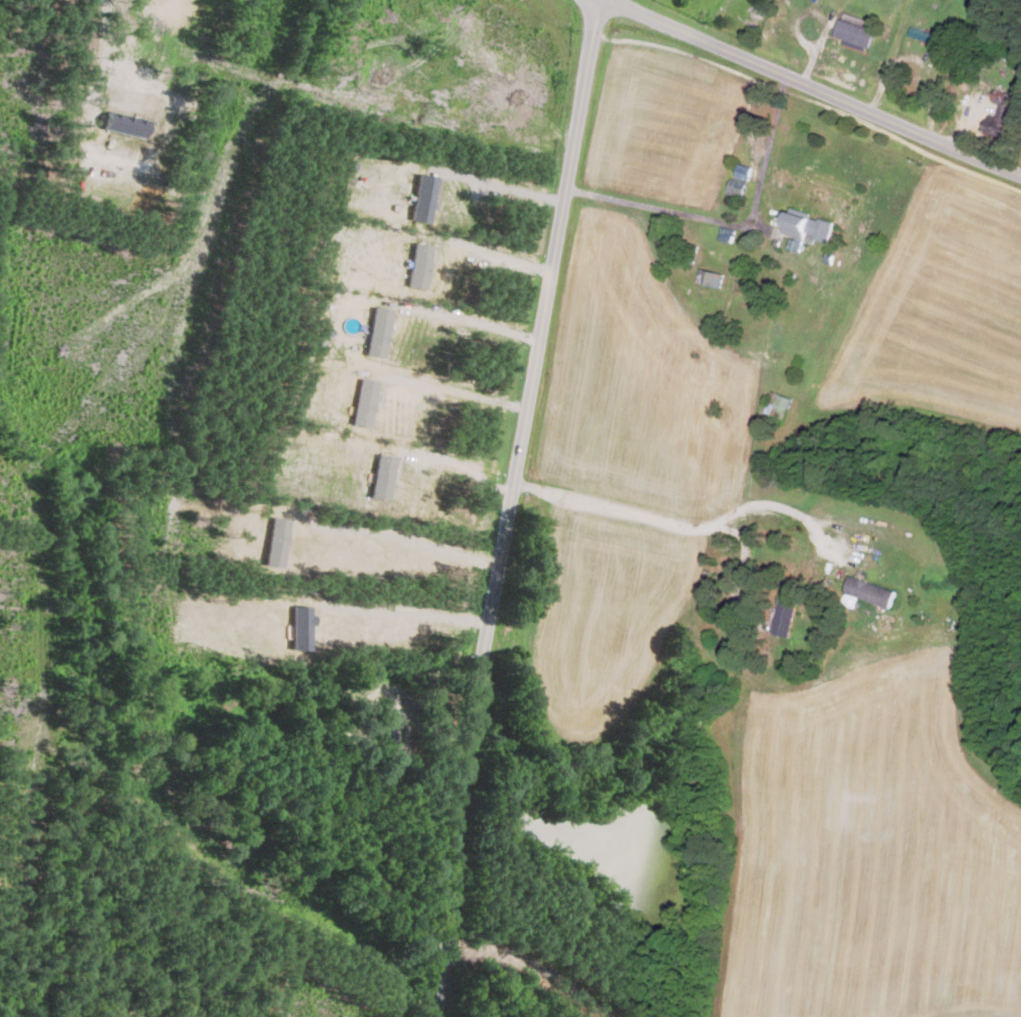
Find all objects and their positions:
building: (853, 34)
building: (930, 37)
road: (92, 73)
road: (811, 84)
building: (1001, 117)
building: (740, 179)
road: (502, 185)
road: (735, 222)
building: (805, 228)
road: (496, 259)
building: (420, 264)
building: (710, 278)
road: (462, 316)
road: (455, 388)
building: (777, 405)
road: (459, 463)
road: (508, 506)
road: (680, 517)
road: (402, 533)
building: (723, 548)
road: (741, 561)
building: (870, 591)
road: (423, 610)
building: (785, 617)
building: (387, 727)

